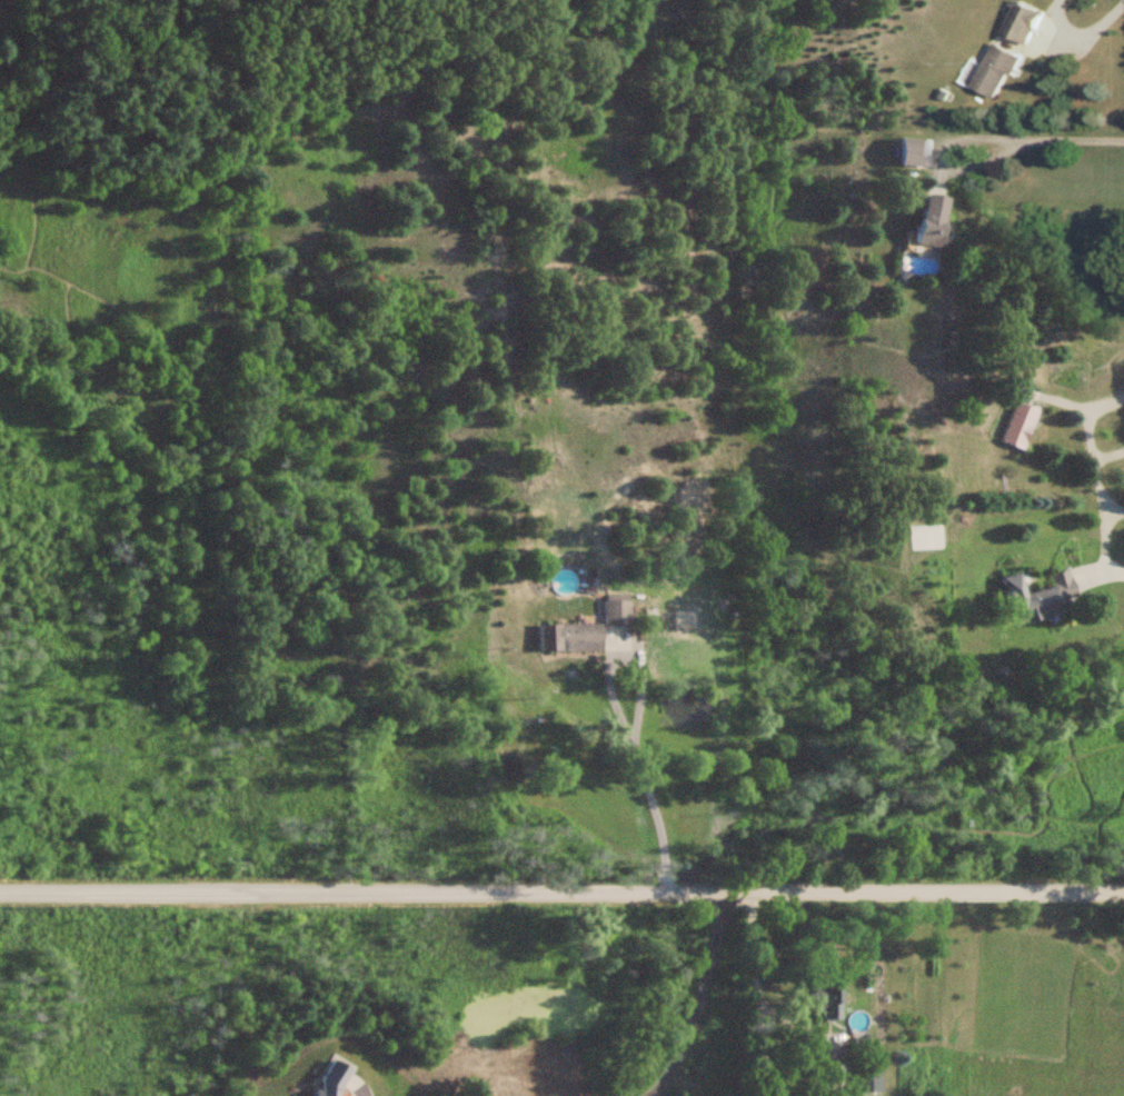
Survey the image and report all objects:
building: (1019, 22)
road: (1084, 32)
building: (994, 71)
road: (1045, 141)
building: (912, 152)
building: (925, 221)
building: (1016, 426)
road: (1094, 464)
road: (1102, 570)
building: (1032, 598)
building: (619, 611)
building: (573, 638)
road: (617, 714)
road: (561, 893)
road: (750, 948)
road: (693, 999)
building: (827, 999)
road: (817, 1030)
road: (757, 1054)

